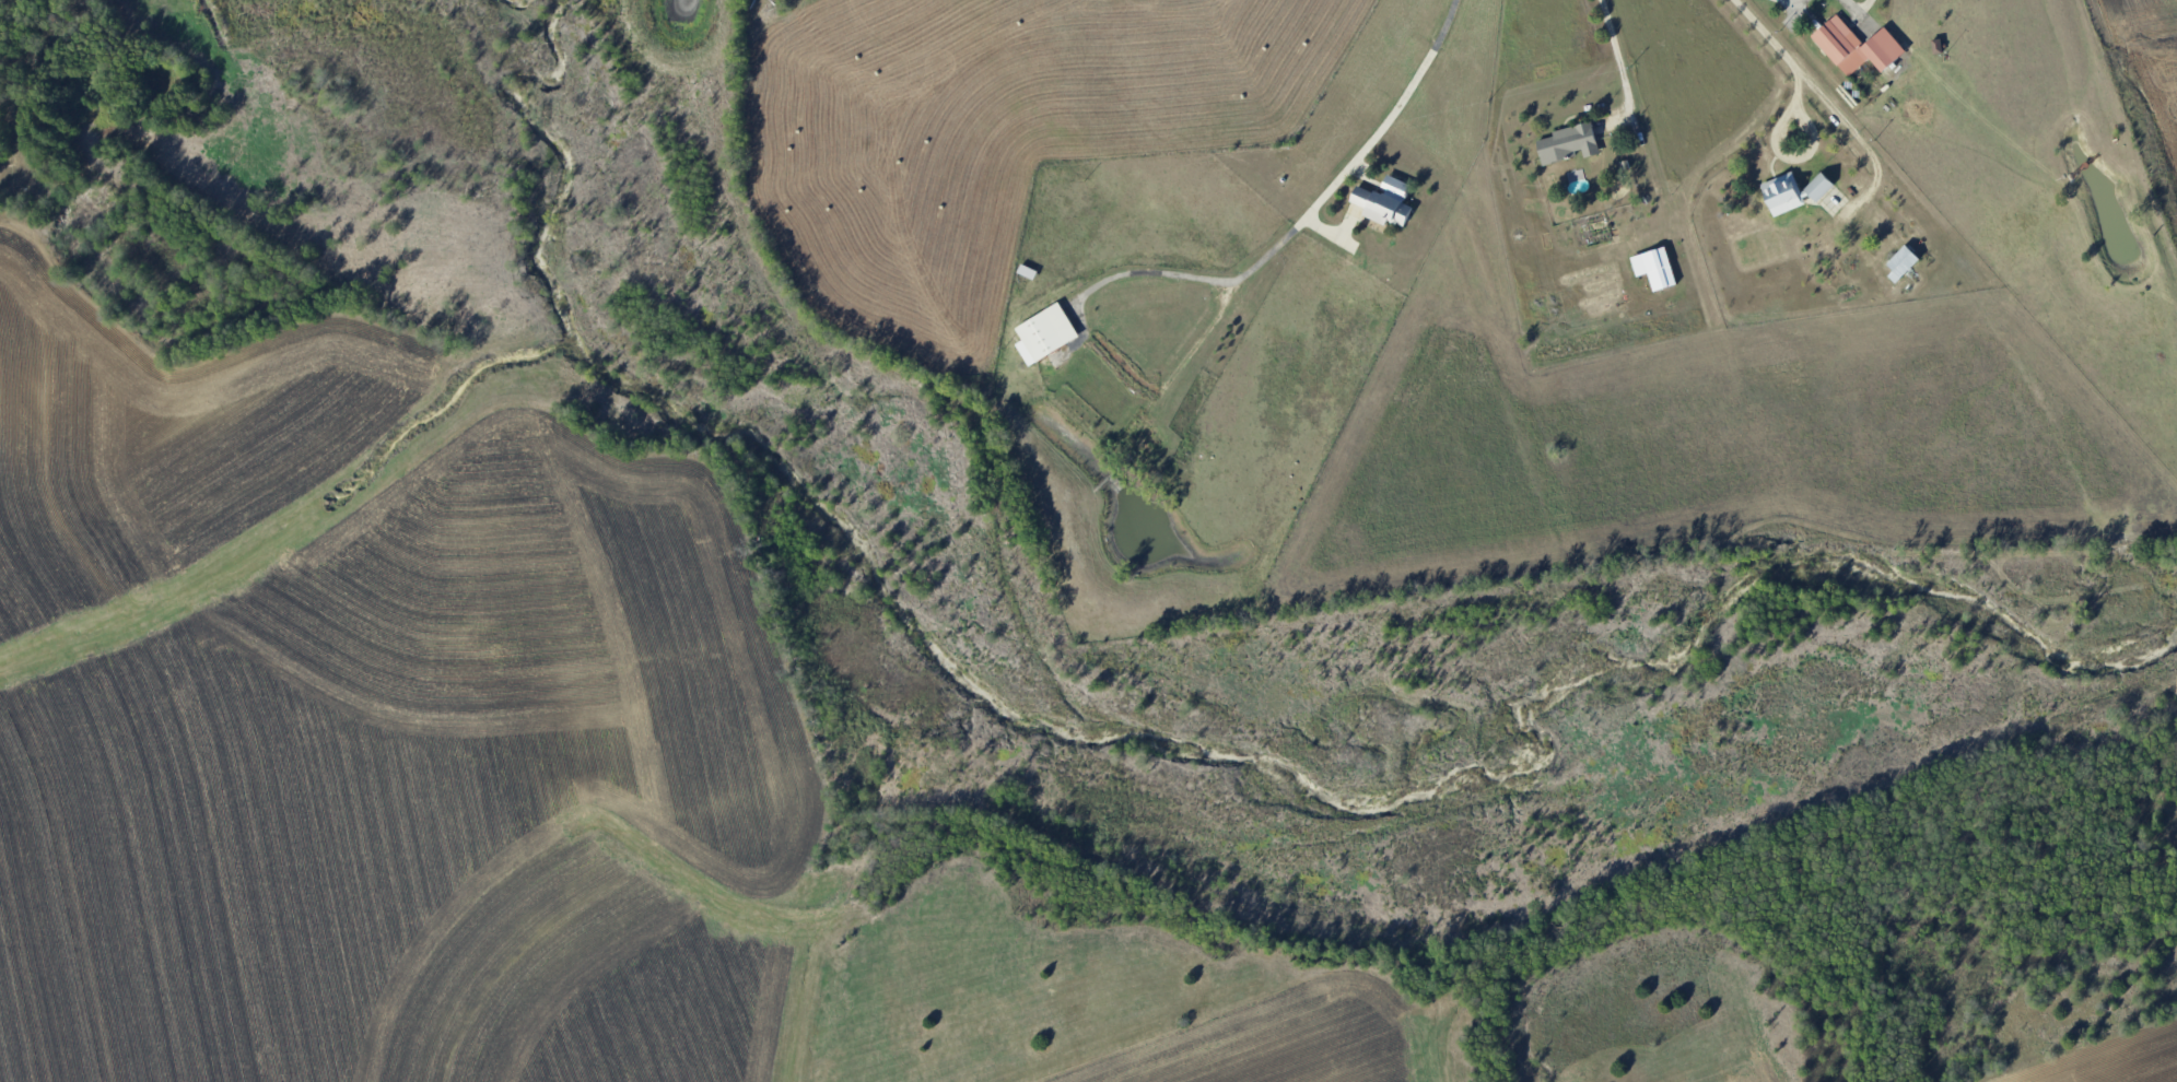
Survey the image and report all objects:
road: (1866, 7)
building: (1857, 47)
road: (1618, 60)
road: (1819, 95)
building: (1569, 143)
building: (1395, 187)
building: (1819, 187)
building: (1782, 195)
building: (1382, 207)
road: (1308, 213)
building: (1903, 263)
building: (1655, 269)
building: (1045, 333)

